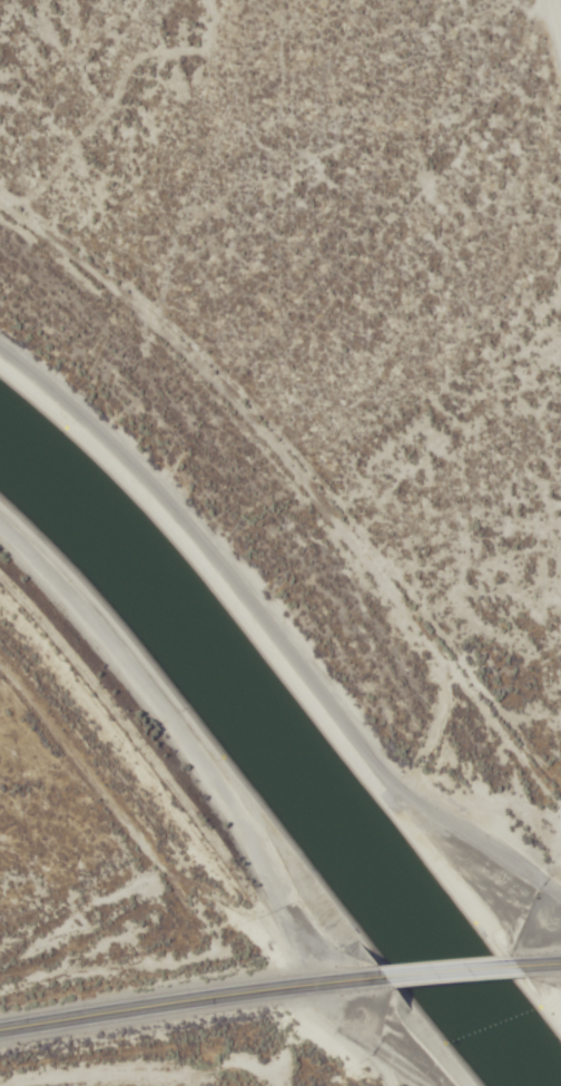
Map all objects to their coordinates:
crop: (339, 291)
road: (294, 604)
road: (224, 816)
road: (279, 985)

